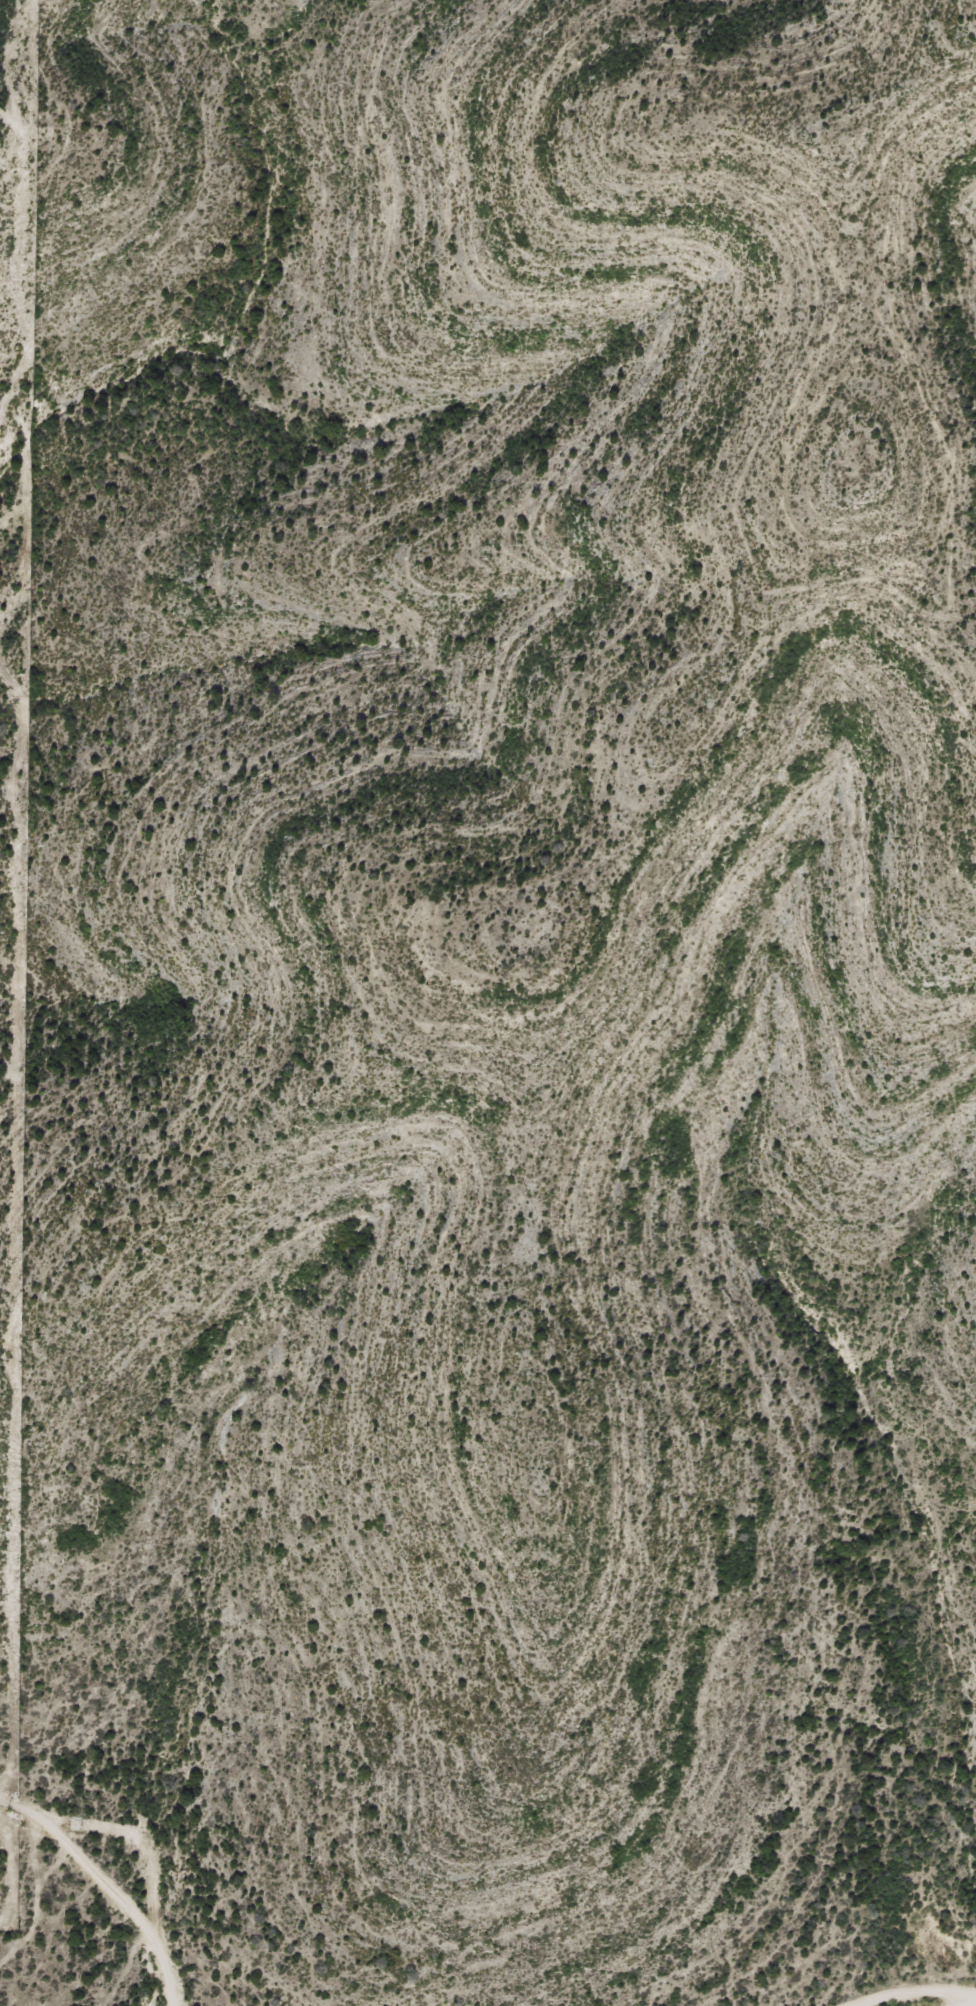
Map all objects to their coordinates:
road: (108, 1884)
road: (904, 1988)

